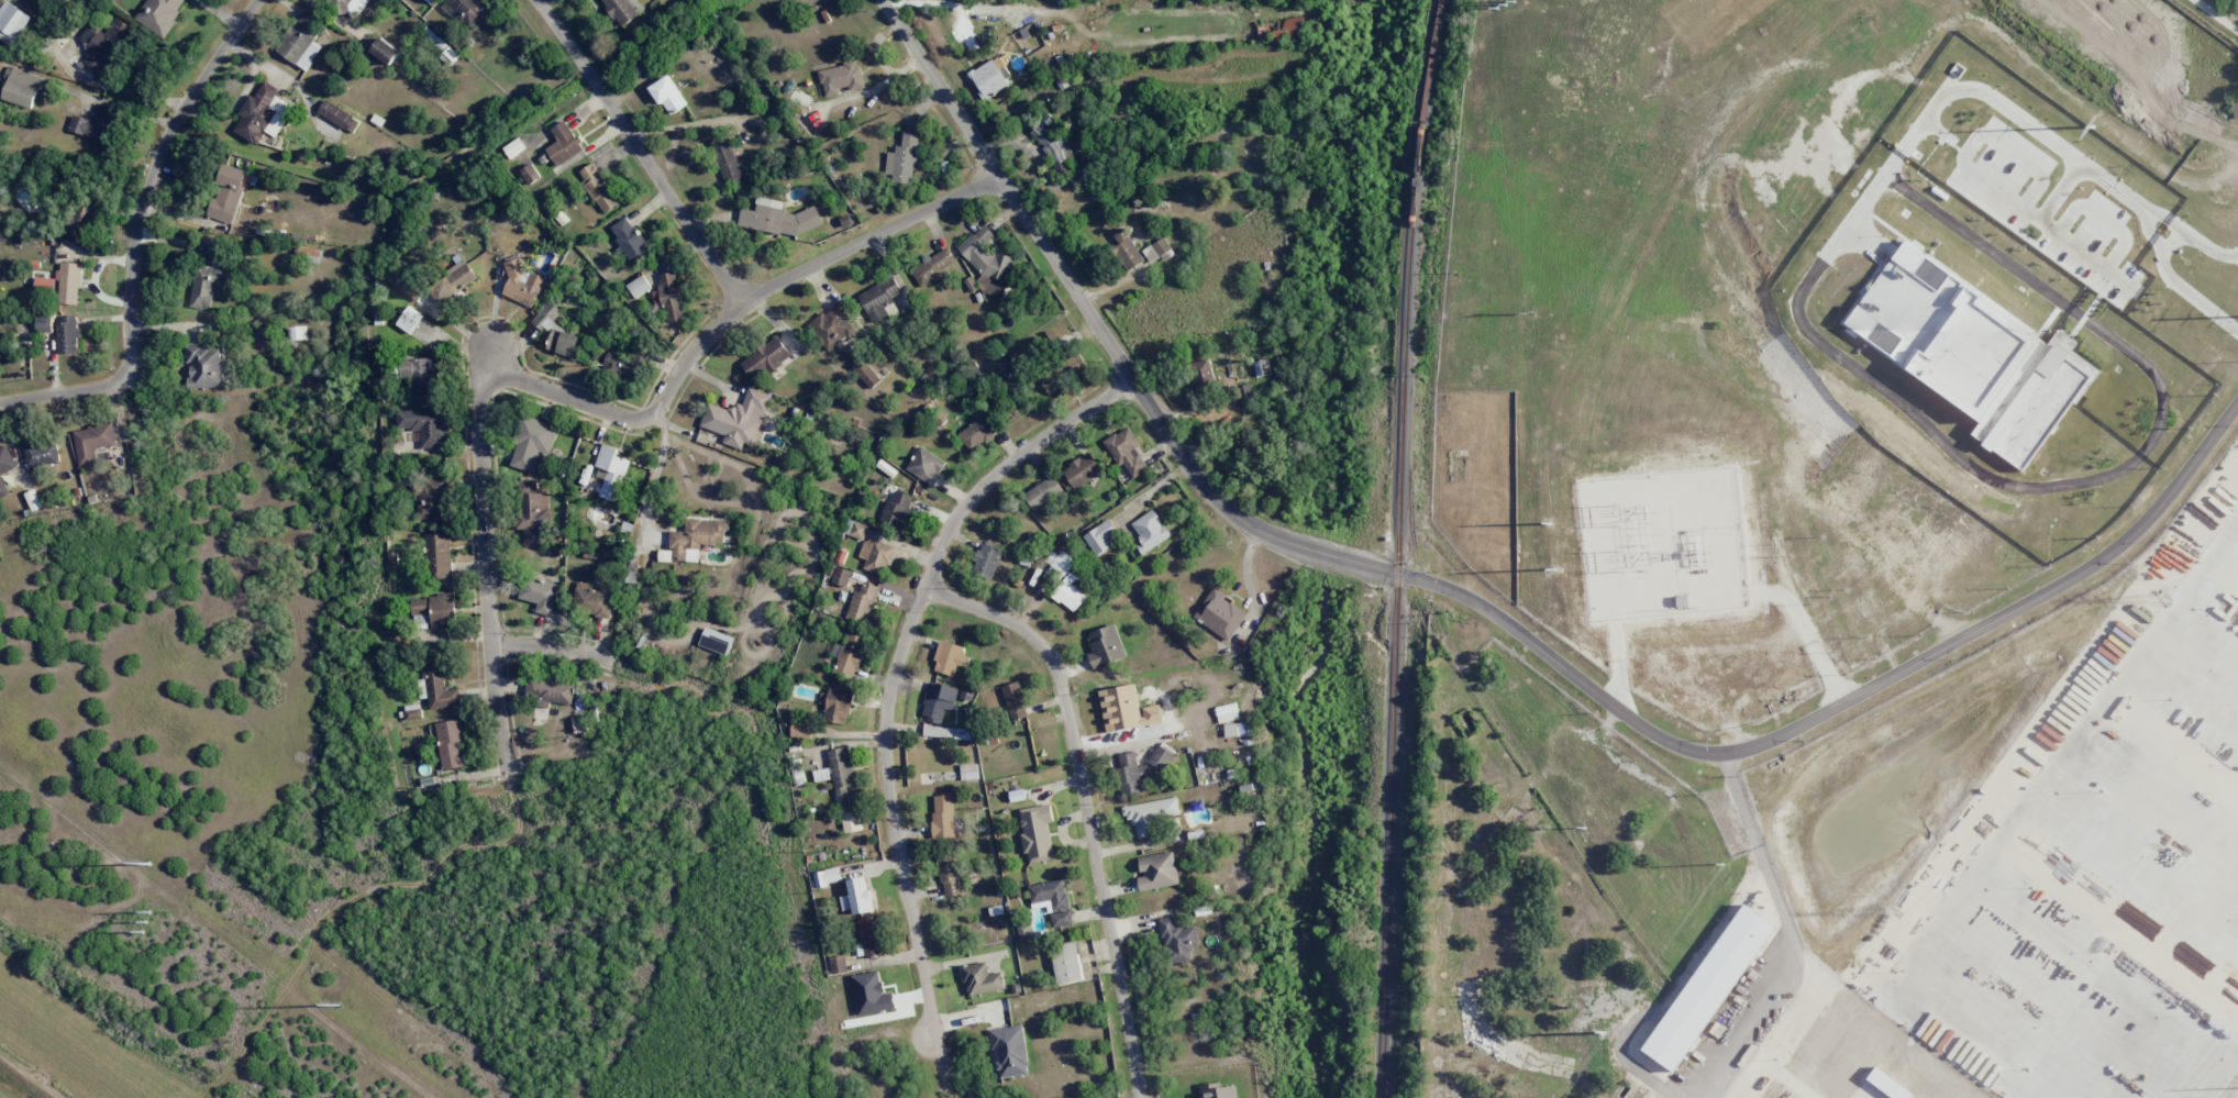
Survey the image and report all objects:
power tower: (1497, 0)
building: (340, 4)
building: (466, 10)
building: (620, 10)
building: (159, 14)
building: (11, 22)
building: (301, 41)
building: (108, 45)
building: (385, 51)
building: (990, 77)
building: (840, 78)
building: (21, 88)
road: (2139, 91)
building: (668, 95)
building: (2235, 109)
building: (261, 114)
building: (339, 117)
building: (96, 124)
power tower: (2091, 126)
building: (563, 143)
building: (1052, 143)
building: (513, 146)
road: (639, 147)
building: (904, 157)
building: (727, 160)
building: (529, 174)
road: (148, 177)
building: (598, 187)
building: (228, 192)
building: (2226, 198)
building: (778, 218)
building: (630, 241)
building: (1127, 249)
building: (1159, 251)
building: (986, 262)
building: (932, 267)
road: (797, 268)
building: (210, 274)
building: (452, 281)
building: (69, 282)
building: (521, 285)
building: (46, 286)
building: (669, 296)
building: (878, 299)
building: (420, 301)
power tower: (1525, 311)
building: (546, 317)
building: (409, 319)
building: (832, 326)
building: (1942, 331)
building: (296, 333)
building: (67, 334)
building: (565, 343)
building: (765, 358)
building: (627, 363)
building: (203, 365)
building: (865, 373)
building: (1063, 373)
building: (1201, 373)
building: (421, 374)
road: (59, 390)
building: (2041, 401)
building: (738, 419)
building: (424, 426)
building: (977, 432)
building: (92, 442)
building: (532, 442)
building: (41, 450)
building: (1126, 451)
road: (1007, 462)
building: (926, 465)
building: (5, 467)
building: (1082, 470)
building: (611, 472)
building: (1043, 492)
building: (431, 498)
road: (487, 499)
building: (896, 509)
building: (532, 512)
building: (856, 530)
building: (1149, 531)
building: (1101, 536)
building: (694, 537)
power substation: (1663, 543)
railway: (1396, 547)
building: (439, 555)
building: (876, 555)
building: (392, 557)
building: (986, 561)
building: (1062, 563)
building: (631, 569)
power tower: (1554, 570)
building: (841, 576)
building: (1068, 592)
building: (539, 595)
power tower: (2165, 599)
building: (592, 600)
building: (862, 603)
building: (434, 610)
road: (1495, 612)
building: (1219, 613)
building: (716, 641)
road: (533, 643)
building: (1105, 646)
building: (850, 654)
building: (950, 657)
building: (437, 687)
building: (550, 691)
building: (938, 700)
building: (1015, 700)
building: (835, 705)
building: (800, 729)
building: (1236, 729)
building: (451, 744)
building: (1141, 769)
building: (840, 772)
building: (968, 772)
road: (1085, 805)
building: (943, 814)
building: (1150, 814)
power tower: (1580, 819)
building: (851, 821)
road: (891, 821)
building: (1035, 832)
power tower: (147, 863)
power tower: (1722, 864)
building: (1157, 870)
building: (950, 875)
building: (860, 896)
building: (1052, 900)
power tower: (1895, 912)
power tower: (144, 921)
building: (1023, 930)
building: (871, 936)
building: (1177, 939)
building: (1066, 963)
building: (838, 964)
building: (980, 978)
power tower: (337, 1002)
power tower: (1606, 1033)
building: (1009, 1051)
building: (1218, 1090)

